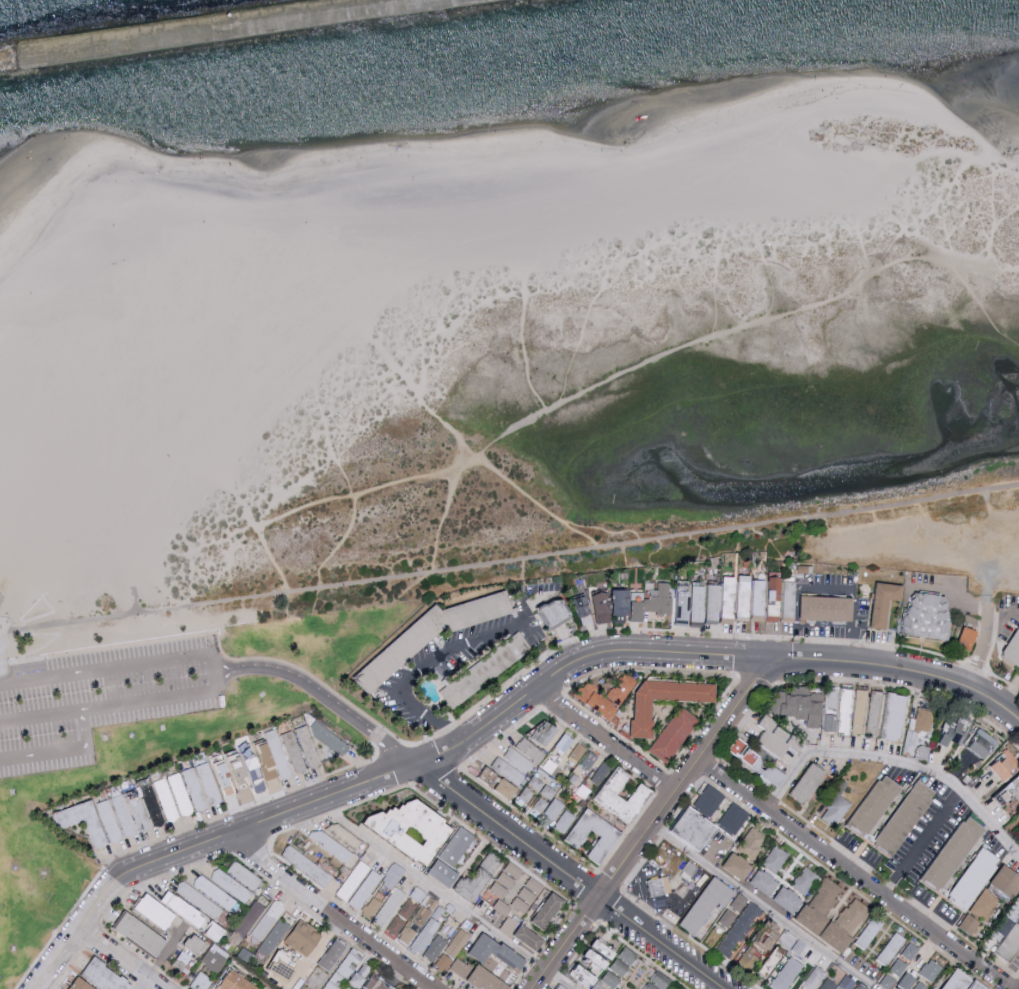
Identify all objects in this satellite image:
river: (479, 58)
road: (466, 458)
road: (603, 528)
park: (926, 542)
road: (509, 560)
road: (826, 591)
road: (950, 593)
building: (722, 596)
building: (760, 596)
building: (737, 597)
building: (655, 599)
building: (783, 600)
building: (706, 602)
building: (878, 602)
building: (691, 603)
building: (602, 604)
building: (576, 605)
building: (675, 607)
building: (820, 607)
building: (627, 610)
building: (545, 613)
building: (921, 614)
road: (1004, 615)
building: (960, 638)
road: (986, 643)
building: (1010, 646)
road: (708, 654)
road: (440, 658)
road: (115, 667)
building: (617, 689)
building: (830, 697)
road: (327, 698)
building: (591, 699)
parking lot: (103, 700)
road: (118, 705)
building: (795, 706)
building: (844, 710)
building: (858, 711)
building: (881, 714)
building: (636, 719)
building: (919, 720)
building: (826, 722)
road: (992, 726)
building: (948, 730)
building: (670, 734)
building: (770, 736)
park: (151, 737)
building: (328, 737)
road: (604, 740)
building: (533, 742)
building: (562, 742)
building: (301, 748)
road: (62, 751)
building: (970, 751)
building: (574, 753)
building: (920, 753)
building: (516, 759)
building: (586, 760)
building: (747, 762)
building: (252, 763)
building: (995, 763)
road: (894, 764)
building: (506, 770)
building: (491, 782)
building: (801, 783)
building: (201, 785)
building: (534, 789)
building: (602, 792)
building: (165, 799)
building: (706, 800)
building: (538, 803)
building: (868, 804)
building: (833, 805)
building: (551, 809)
building: (898, 817)
building: (99, 819)
road: (655, 819)
building: (730, 819)
road: (266, 820)
building: (562, 820)
building: (414, 825)
building: (683, 828)
building: (602, 837)
building: (750, 843)
road: (922, 844)
building: (457, 845)
building: (333, 846)
building: (947, 852)
building: (773, 859)
building: (490, 863)
building: (306, 865)
building: (731, 866)
building: (445, 873)
building: (243, 875)
building: (393, 875)
road: (854, 875)
road: (569, 877)
building: (967, 878)
building: (506, 879)
building: (354, 880)
building: (802, 880)
building: (1001, 881)
building: (758, 882)
building: (230, 885)
building: (655, 888)
building: (365, 889)
building: (216, 893)
building: (417, 894)
building: (527, 895)
building: (823, 895)
road: (443, 898)
building: (781, 899)
building: (198, 900)
building: (981, 903)
building: (701, 904)
building: (388, 906)
building: (502, 907)
road: (761, 907)
building: (184, 908)
building: (156, 910)
building: (550, 910)
road: (330, 911)
building: (273, 912)
building: (850, 915)
building: (401, 917)
building: (249, 918)
building: (418, 919)
building: (805, 919)
building: (965, 924)
building: (509, 925)
building: (996, 925)
building: (737, 929)
building: (764, 930)
road: (72, 931)
building: (216, 931)
building: (258, 931)
building: (141, 932)
building: (865, 932)
building: (425, 935)
building: (530, 936)
building: (274, 937)
building: (830, 937)
building: (304, 938)
building: (783, 939)
building: (457, 942)
building: (196, 943)
building: (435, 947)
building: (796, 947)
building: (887, 948)
building: (1010, 949)
building: (497, 950)
building: (751, 953)
road: (165, 954)
building: (332, 954)
building: (628, 955)
building: (184, 956)
road: (120, 957)
building: (214, 958)
building: (443, 961)
building: (594, 964)
building: (284, 966)
building: (460, 967)
building: (619, 967)
building: (898, 968)
building: (344, 970)
building: (928, 970)
building: (361, 974)
building: (784, 974)
building: (106, 976)
building: (489, 978)
building: (812, 978)
building: (611, 979)
building: (951, 980)
building: (200, 981)
building: (658, 981)
road: (141, 982)
building: (237, 982)
building: (375, 983)
building: (848, 983)
building: (83, 984)
building: (826, 984)
building: (919, 986)
building: (975, 986)
building: (561, 988)

